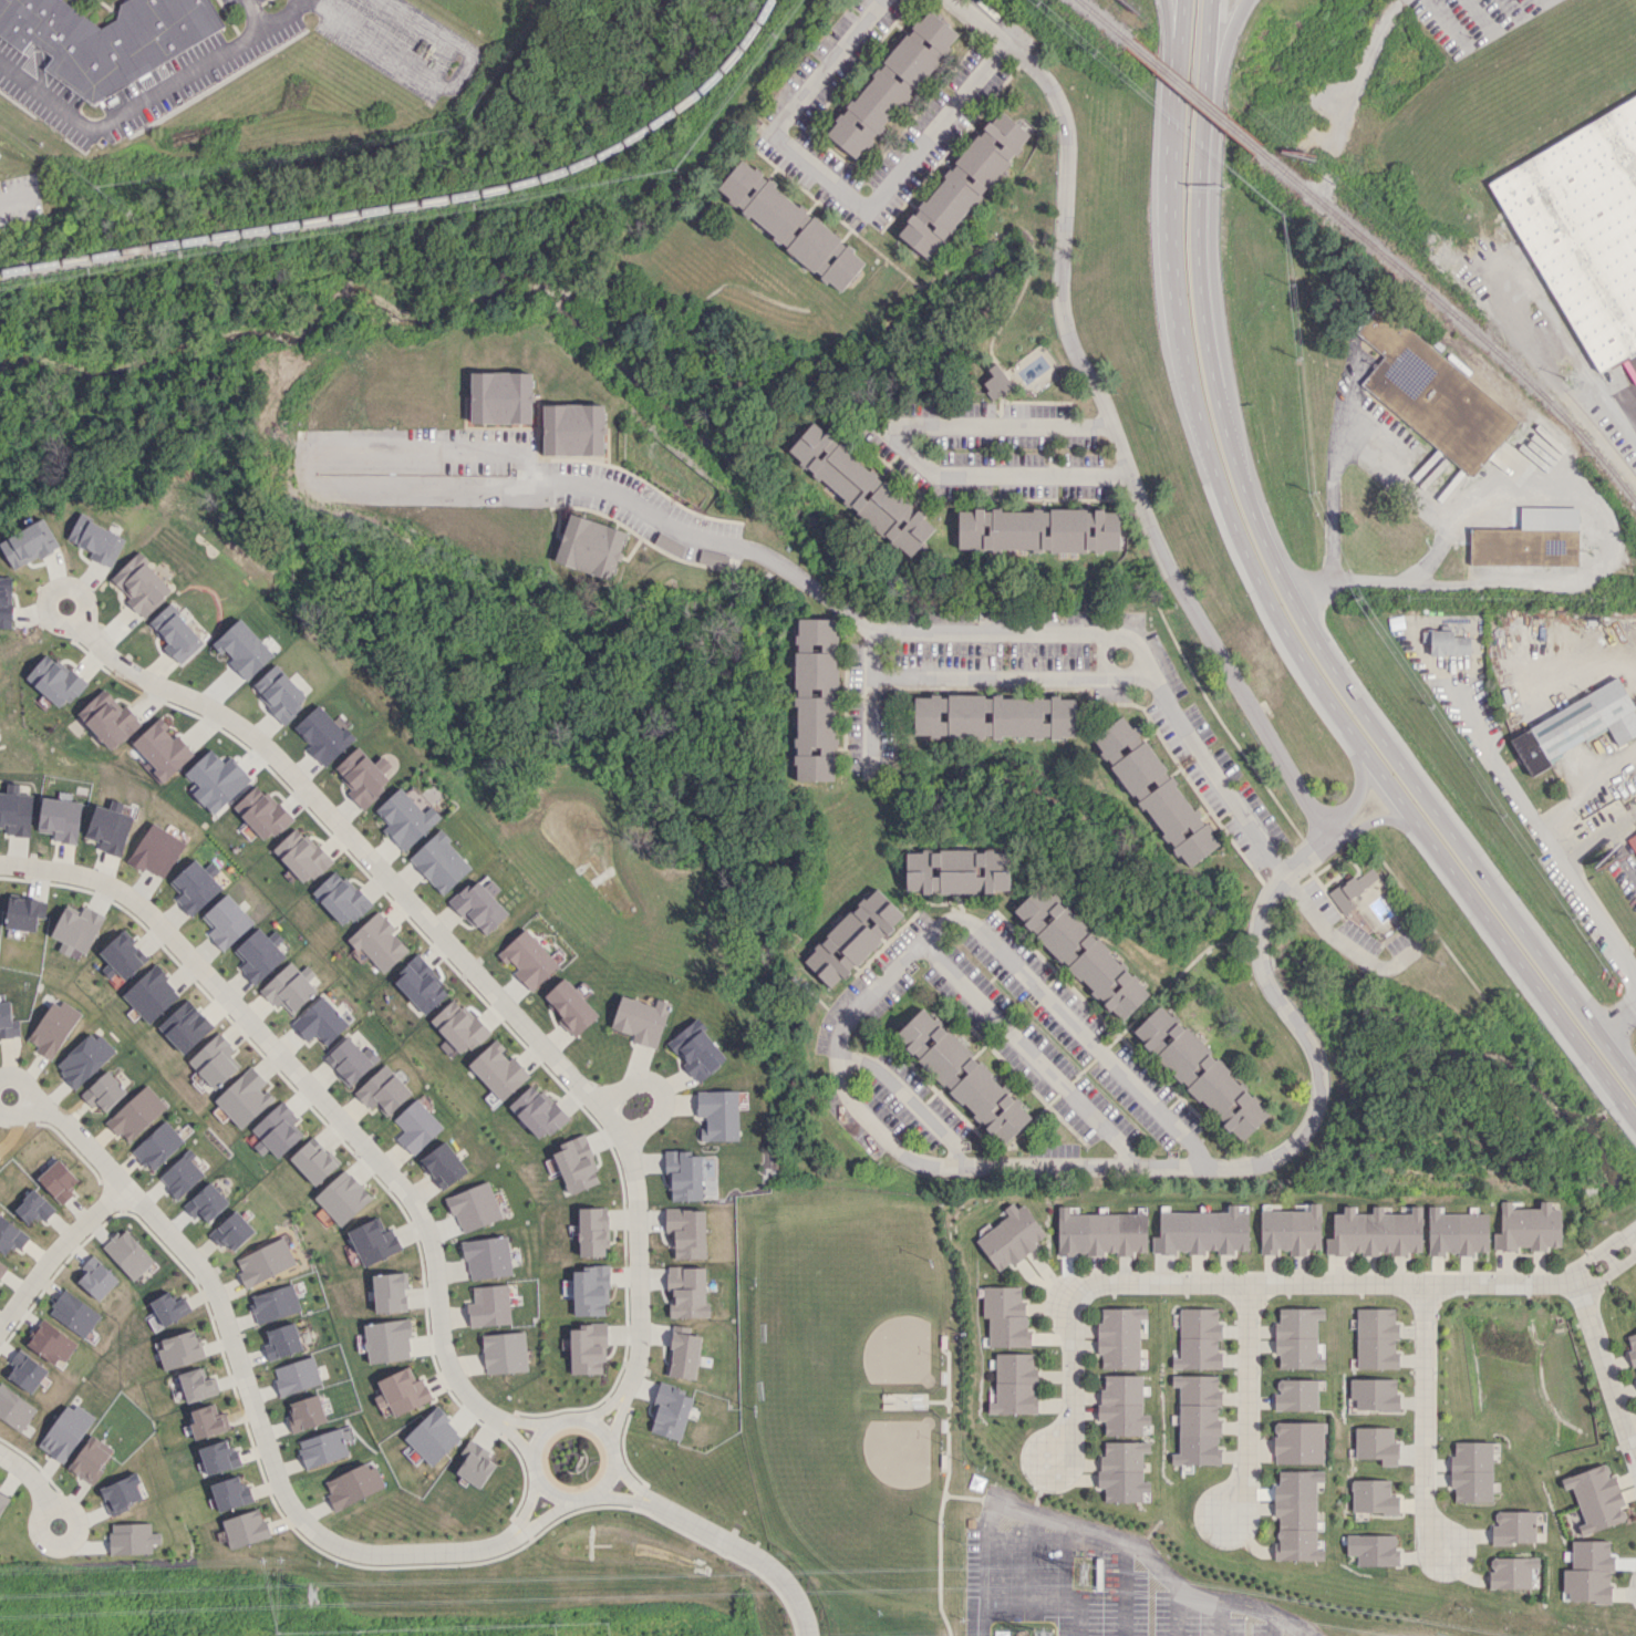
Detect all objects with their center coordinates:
road: (251, 13)
railway: (1105, 20)
road: (1445, 20)
road: (1171, 33)
building: (106, 39)
road: (1207, 56)
road: (432, 82)
building: (891, 83)
road: (147, 93)
railway: (1193, 94)
building: (1, 146)
building: (963, 184)
road: (13, 200)
railway: (420, 205)
road: (864, 210)
road: (1211, 211)
building: (790, 225)
building: (1583, 228)
road: (1176, 249)
road: (1201, 300)
railway: (1457, 315)
railway: (1571, 335)
road: (1559, 338)
building: (996, 382)
road: (1630, 384)
building: (1432, 394)
building: (500, 397)
building: (572, 429)
road: (901, 439)
road: (1121, 445)
road: (300, 466)
road: (1397, 478)
road: (1332, 485)
building: (861, 488)
building: (1037, 529)
road: (715, 537)
building: (1530, 539)
building: (97, 540)
building: (29, 543)
building: (669, 543)
building: (590, 546)
road: (1607, 550)
building: (711, 558)
building: (141, 583)
road: (53, 588)
building: (6, 601)
building: (175, 633)
road: (1133, 641)
building: (1448, 643)
building: (242, 648)
road: (1102, 653)
road: (1011, 674)
building: (53, 680)
building: (279, 693)
building: (815, 698)
road: (869, 698)
building: (994, 716)
building: (106, 718)
building: (1576, 726)
building: (322, 734)
building: (161, 748)
building: (363, 775)
building: (215, 779)
road: (1358, 786)
road: (1585, 787)
building: (1154, 790)
road: (1421, 794)
building: (15, 812)
building: (260, 812)
road: (1412, 816)
building: (60, 818)
building: (405, 818)
road: (1374, 819)
building: (108, 827)
road: (1597, 837)
road: (1545, 839)
building: (1633, 839)
road: (1306, 850)
building: (156, 851)
building: (300, 855)
building: (439, 862)
building: (957, 870)
building: (195, 886)
building: (1353, 888)
building: (340, 898)
building: (480, 904)
building: (24, 912)
building: (226, 921)
building: (76, 929)
building: (851, 938)
building: (377, 942)
road: (1340, 942)
building: (1080, 951)
building: (258, 954)
building: (121, 956)
building: (528, 959)
road: (473, 971)
building: (420, 984)
building: (289, 987)
building: (151, 994)
building: (570, 1006)
building: (641, 1019)
building: (319, 1021)
building: (8, 1022)
road: (1618, 1022)
building: (185, 1026)
building: (52, 1027)
building: (457, 1027)
road: (1027, 1048)
building: (697, 1050)
building: (83, 1058)
building: (350, 1059)
building: (214, 1060)
building: (497, 1069)
building: (1200, 1073)
building: (962, 1075)
road: (21, 1081)
road: (661, 1087)
building: (103, 1090)
building: (382, 1090)
road: (905, 1095)
building: (244, 1097)
road: (327, 1104)
building: (537, 1111)
road: (15, 1112)
building: (135, 1114)
building: (718, 1115)
building: (415, 1126)
building: (276, 1130)
building: (157, 1146)
road: (918, 1158)
building: (312, 1161)
building: (443, 1164)
building: (577, 1164)
building: (180, 1174)
building: (683, 1176)
building: (58, 1180)
building: (342, 1197)
building: (205, 1202)
building: (33, 1207)
building: (474, 1207)
building: (1528, 1226)
building: (1290, 1230)
building: (230, 1231)
building: (592, 1231)
building: (686, 1232)
building: (1100, 1232)
building: (1201, 1232)
building: (1375, 1232)
building: (1456, 1232)
building: (10, 1235)
building: (1011, 1236)
building: (373, 1241)
road: (56, 1251)
building: (127, 1253)
building: (487, 1257)
building: (263, 1262)
building: (1, 1266)
building: (96, 1278)
road: (1363, 1283)
building: (588, 1290)
building: (390, 1292)
building: (686, 1292)
building: (275, 1303)
building: (489, 1305)
building: (169, 1307)
building: (73, 1313)
building: (1005, 1316)
building: (1119, 1336)
building: (1297, 1337)
building: (1198, 1338)
building: (1376, 1338)
building: (282, 1340)
building: (387, 1340)
building: (50, 1343)
building: (1632, 1347)
building: (587, 1348)
building: (180, 1349)
building: (504, 1352)
building: (682, 1353)
road: (1608, 1361)
building: (27, 1371)
building: (296, 1376)
road: (1075, 1378)
building: (1014, 1384)
building: (197, 1385)
building: (404, 1391)
building: (1375, 1394)
building: (1295, 1395)
building: (1121, 1405)
road: (1246, 1405)
building: (14, 1408)
building: (670, 1411)
building: (306, 1412)
road: (256, 1415)
building: (1198, 1419)
building: (208, 1421)
road: (1427, 1422)
building: (65, 1431)
building: (433, 1436)
building: (1297, 1442)
building: (1376, 1445)
building: (324, 1447)
building: (219, 1457)
building: (91, 1458)
road: (536, 1462)
building: (474, 1463)
building: (1122, 1471)
building: (1471, 1471)
road: (25, 1473)
building: (352, 1484)
building: (230, 1492)
building: (121, 1493)
building: (1373, 1497)
building: (1595, 1498)
building: (2, 1501)
building: (1296, 1514)
building: (245, 1528)
building: (1513, 1528)
road: (1096, 1534)
building: (132, 1537)
road: (727, 1541)
road: (64, 1543)
building: (1373, 1550)
building: (1511, 1572)
building: (1588, 1572)
power tower: (1083, 1577)
road: (1119, 1588)
power tower: (308, 1602)

